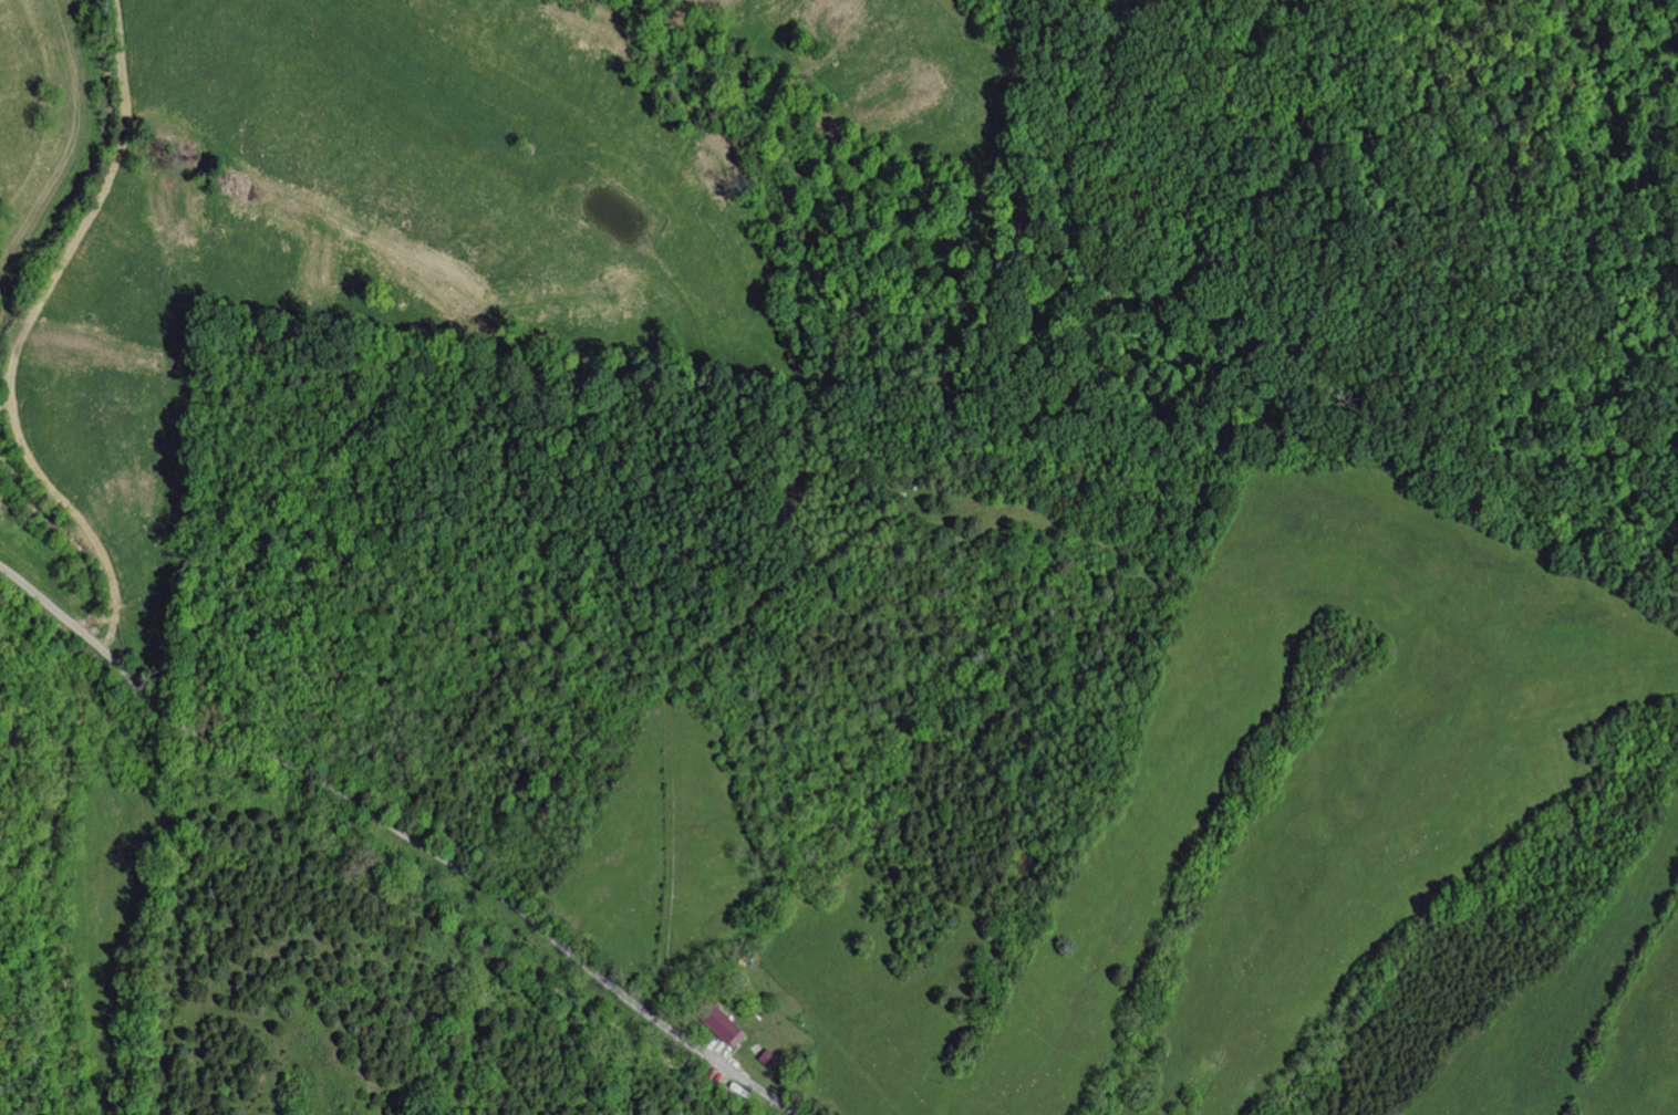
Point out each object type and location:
road: (402, 833)
building: (731, 1030)

